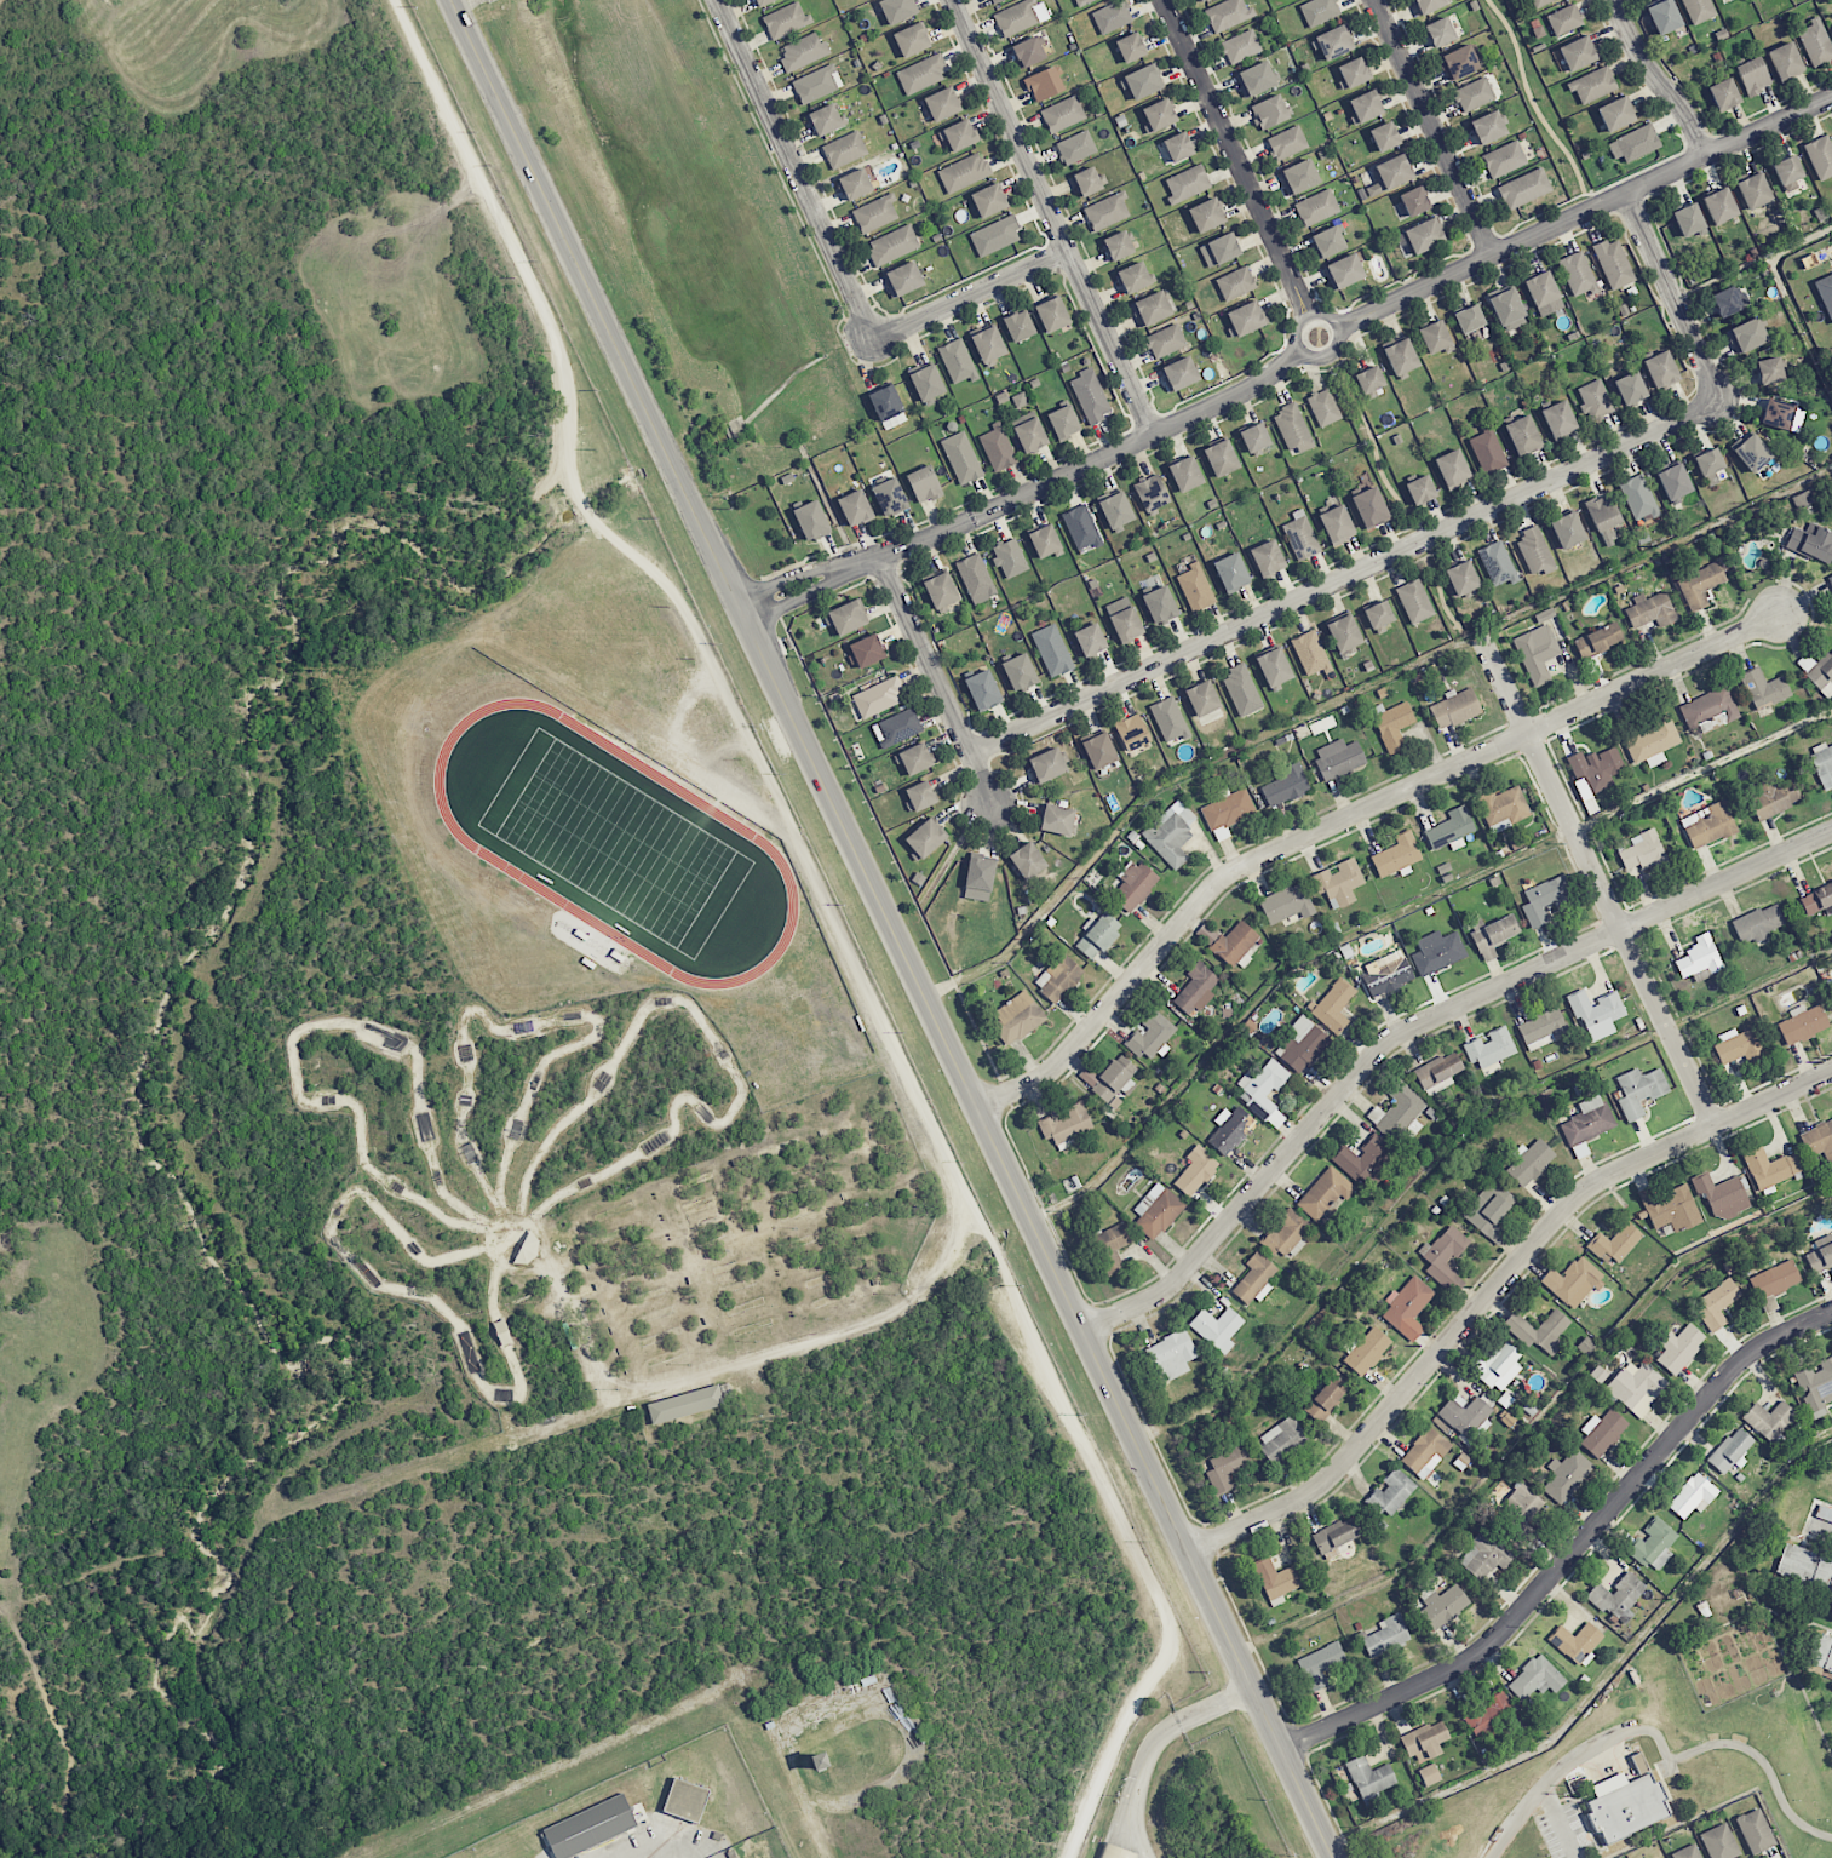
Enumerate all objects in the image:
building: (1201, 0)
building: (993, 1)
building: (1084, 1)
building: (1539, 1)
building: (762, 2)
building: (1429, 5)
road: (6, 10)
building: (897, 10)
building: (1699, 10)
building: (1319, 11)
building: (1227, 13)
building: (1664, 16)
building: (1016, 17)
building: (1112, 17)
building: (786, 19)
building: (1564, 19)
building: (1440, 31)
building: (912, 39)
building: (1336, 41)
building: (1815, 42)
building: (1241, 46)
building: (1130, 47)
building: (803, 51)
building: (1028, 51)
building: (1579, 52)
building: (1785, 59)
building: (1459, 62)
building: (1354, 71)
building: (921, 74)
building: (1752, 75)
building: (1256, 79)
road: (1655, 79)
building: (1143, 81)
building: (815, 84)
building: (1044, 84)
building: (1592, 84)
building: (1474, 93)
building: (1723, 94)
building: (942, 103)
road: (1539, 104)
building: (1366, 105)
building: (1269, 111)
building: (1616, 113)
building: (1063, 114)
building: (1159, 114)
building: (825, 120)
road: (1435, 127)
building: (1488, 127)
building: (959, 134)
building: (1384, 136)
building: (1287, 142)
building: (1635, 143)
building: (1076, 147)
building: (1178, 147)
building: (844, 150)
building: (1820, 156)
road: (1236, 157)
building: (1504, 159)
road: (797, 172)
building: (964, 172)
building: (1391, 173)
building: (1787, 173)
building: (1299, 176)
building: (1086, 182)
building: (1187, 183)
building: (855, 184)
building: (1523, 188)
building: (1753, 190)
building: (988, 200)
building: (1414, 200)
building: (1719, 206)
building: (1316, 207)
building: (1107, 211)
road: (1585, 211)
building: (875, 213)
building: (1206, 214)
road: (1055, 216)
building: (1688, 219)
building: (1424, 235)
building: (995, 236)
building: (1328, 241)
building: (892, 245)
building: (1118, 245)
building: (1219, 250)
building: (1613, 263)
road: (1753, 264)
building: (1344, 271)
building: (1577, 274)
building: (1133, 277)
building: (902, 279)
building: (1235, 282)
building: (1825, 292)
building: (1544, 293)
road: (1672, 297)
road: (974, 298)
building: (1728, 300)
building: (1150, 308)
building: (1507, 309)
building: (1052, 314)
building: (1246, 317)
road: (1333, 319)
building: (1469, 319)
building: (1018, 326)
building: (1747, 334)
building: (1434, 337)
building: (1165, 340)
building: (988, 344)
building: (1401, 356)
building: (957, 361)
building: (1660, 369)
building: (1769, 369)
building: (1179, 373)
building: (1369, 379)
building: (926, 383)
building: (1630, 388)
building: (1090, 396)
building: (1595, 398)
building: (888, 407)
building: (1323, 407)
building: (1778, 413)
building: (1558, 418)
building: (1063, 422)
building: (1292, 429)
building: (1029, 434)
building: (1522, 435)
building: (1254, 437)
building: (998, 447)
building: (1487, 452)
building: (1752, 453)
building: (961, 458)
building: (1221, 458)
building: (1708, 465)
building: (1452, 469)
building: (1185, 474)
building: (1673, 481)
building: (924, 483)
building: (1420, 489)
building: (1150, 493)
road: (1029, 495)
building: (889, 497)
building: (1638, 497)
building: (1803, 499)
road: (1401, 501)
building: (855, 507)
building: (1369, 507)
building: (1116, 510)
building: (1603, 517)
building: (811, 520)
building: (1337, 524)
building: (1081, 527)
building: (1567, 529)
building: (1300, 535)
building: (1044, 541)
building: (1811, 544)
building: (1535, 551)
building: (1009, 557)
building: (1267, 557)
building: (1498, 564)
building: (1231, 572)
building: (976, 578)
road: (1345, 578)
building: (1461, 578)
building: (1830, 580)
building: (1700, 585)
building: (1195, 587)
building: (941, 590)
building: (1414, 601)
building: (1160, 604)
building: (1650, 610)
building: (1378, 615)
building: (848, 617)
building: (1126, 624)
building: (1344, 632)
building: (1090, 640)
building: (1598, 640)
building: (867, 650)
building: (1052, 650)
building: (1310, 653)
building: (1537, 653)
building: (1274, 666)
building: (1817, 671)
building: (1020, 672)
road: (936, 679)
building: (1763, 688)
building: (983, 690)
building: (1241, 690)
building: (878, 698)
building: (1202, 698)
building: (1454, 709)
building: (1168, 719)
building: (1392, 724)
building: (896, 728)
building: (1132, 732)
building: (1652, 741)
building: (1098, 750)
building: (915, 758)
building: (1338, 758)
building: (1822, 763)
building: (1046, 765)
building: (1596, 765)
building: (1286, 785)
building: (920, 795)
building: (1774, 797)
building: (1228, 808)
building: (1503, 808)
road: (1348, 815)
building: (1057, 819)
building: (1708, 824)
building: (1451, 830)
building: (1171, 833)
building: (925, 837)
building: (1643, 850)
building: (1397, 855)
building: (1027, 860)
building: (978, 878)
building: (1339, 882)
road: (1597, 883)
building: (1133, 885)
building: (1816, 898)
building: (1543, 900)
building: (1286, 904)
road: (837, 922)
building: (1758, 923)
road: (892, 927)
building: (1495, 930)
building: (1098, 935)
building: (1230, 942)
building: (1437, 952)
building: (1700, 958)
building: (1386, 975)
building: (1058, 977)
building: (1196, 988)
building: (1333, 1005)
building: (1596, 1013)
building: (1017, 1016)
road: (1417, 1023)
building: (1802, 1023)
building: (1543, 1028)
building: (1152, 1034)
building: (1300, 1044)
building: (1736, 1046)
building: (1491, 1048)
building: (1438, 1072)
building: (1262, 1086)
building: (1638, 1090)
building: (1400, 1113)
building: (1587, 1120)
building: (1066, 1124)
building: (1231, 1130)
building: (1819, 1140)
building: (1363, 1159)
building: (1529, 1162)
building: (1771, 1168)
building: (1195, 1170)
building: (1325, 1193)
building: (1722, 1197)
building: (1670, 1208)
building: (1156, 1210)
building: (1489, 1210)
building: (1286, 1233)
building: (1615, 1243)
building: (1110, 1246)
building: (1445, 1257)
building: (1819, 1257)
building: (1256, 1278)
building: (1774, 1279)
building: (1573, 1280)
road: (1492, 1289)
building: (1716, 1303)
building: (1408, 1307)
building: (1217, 1327)
building: (1539, 1330)
building: (1679, 1347)
building: (1367, 1351)
building: (1171, 1354)
road: (764, 1359)
building: (1495, 1366)
building: (1636, 1387)
building: (1816, 1387)
building: (1326, 1398)
building: (684, 1404)
building: (1466, 1415)
building: (1770, 1420)
building: (1602, 1432)
building: (1282, 1439)
building: (1730, 1451)
building: (1425, 1452)
building: (1228, 1467)
building: (1567, 1474)
building: (1826, 1479)
building: (1391, 1492)
building: (1692, 1496)
building: (1520, 1502)
building: (1792, 1509)
building: (1817, 1522)
building: (1334, 1537)
building: (1654, 1544)
road: (1570, 1549)
building: (1486, 1555)
building: (1805, 1566)
building: (1276, 1581)
building: (1618, 1596)
building: (1442, 1605)
building: (1386, 1635)
building: (1578, 1642)
building: (1821, 1652)
building: (1319, 1664)
building: (1535, 1678)
building: (1489, 1716)
building: (1425, 1741)
road: (1660, 1744)
road: (1160, 1753)
road: (1764, 1762)
building: (1429, 1774)
building: (1369, 1778)
road: (1551, 1778)
building: (685, 1800)
building: (1626, 1808)
road: (1557, 1823)
building: (590, 1827)
building: (1755, 1830)
road: (1139, 1841)
building: (1719, 1841)
building: (1115, 1852)
building: (1687, 1852)
building: (1665, 1857)

